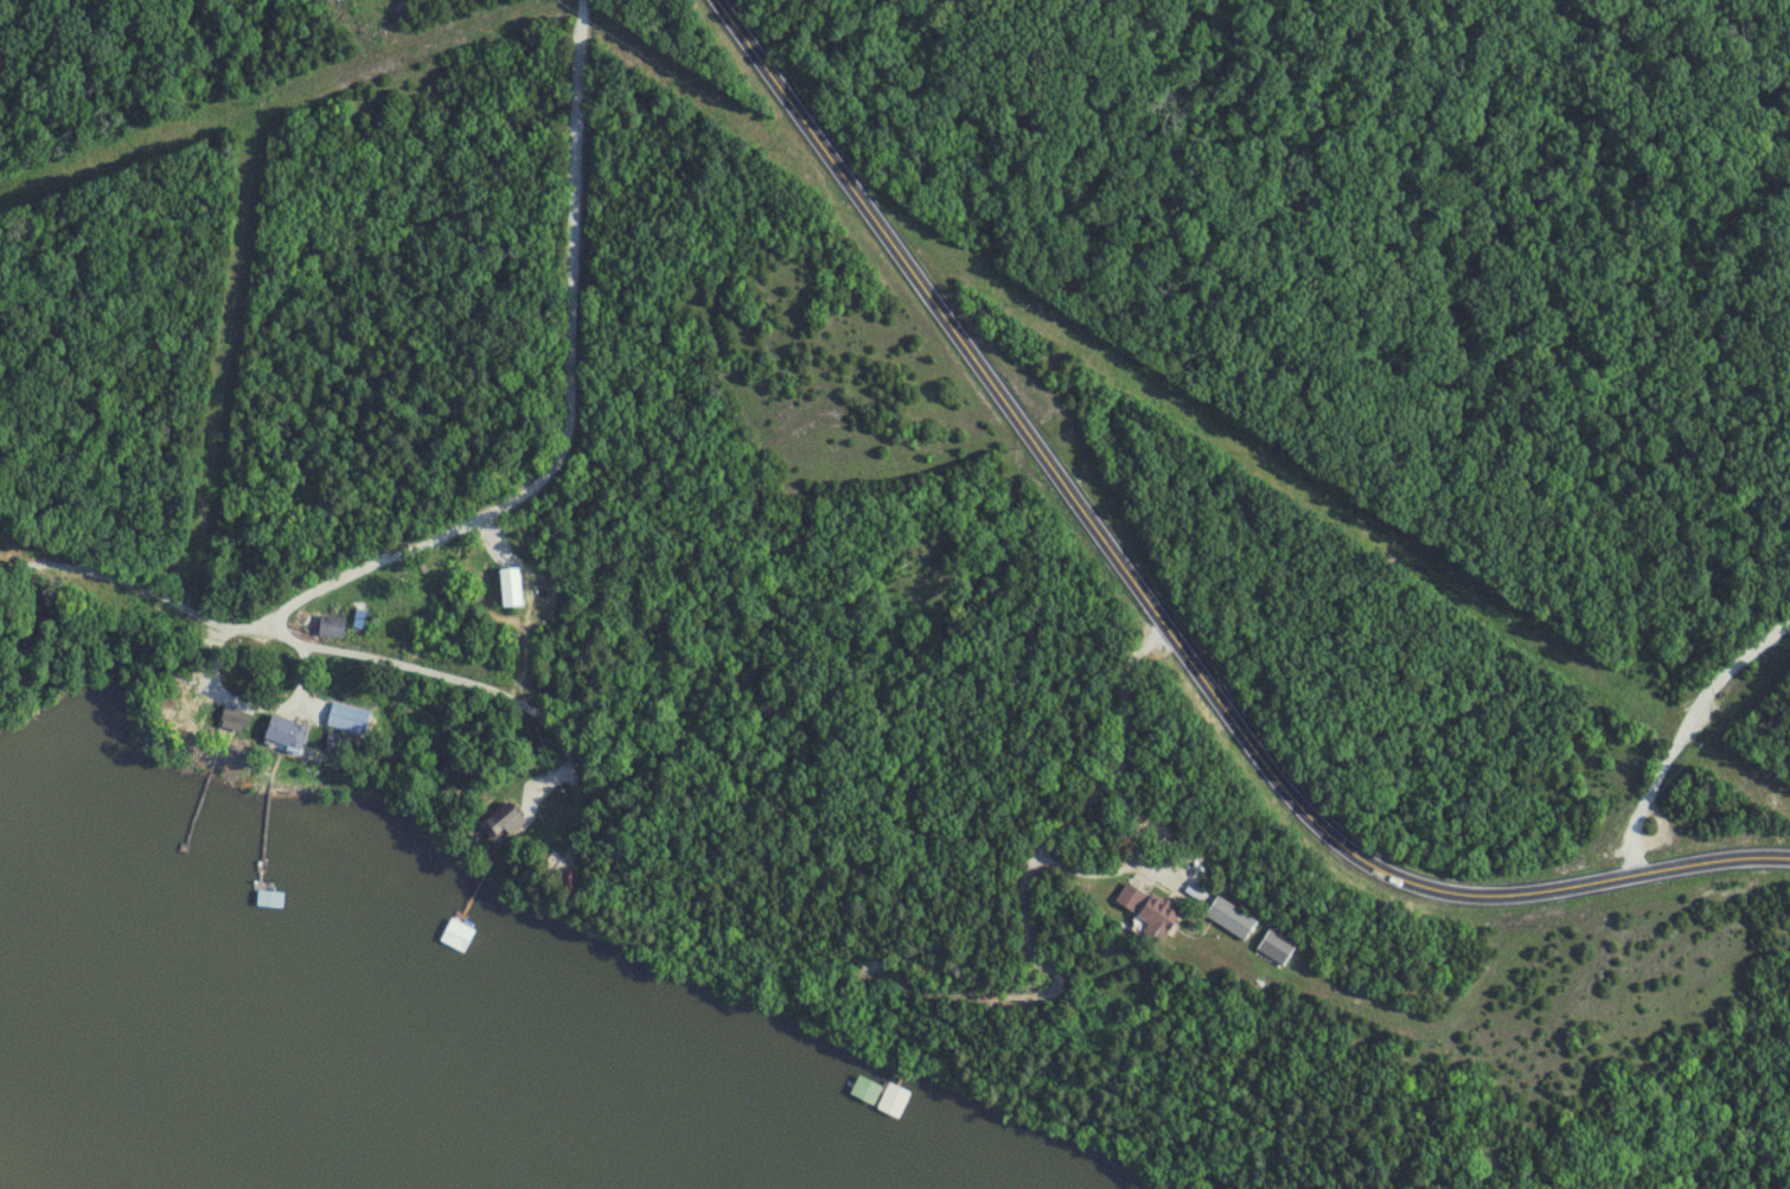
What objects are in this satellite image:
road: (574, 409)
building: (512, 597)
road: (1155, 618)
building: (332, 628)
road: (364, 660)
road: (1123, 722)
building: (286, 734)
road: (1681, 736)
building: (506, 822)
road: (1140, 852)
building: (271, 900)
building: (1149, 914)
building: (1230, 920)
building: (895, 1101)

